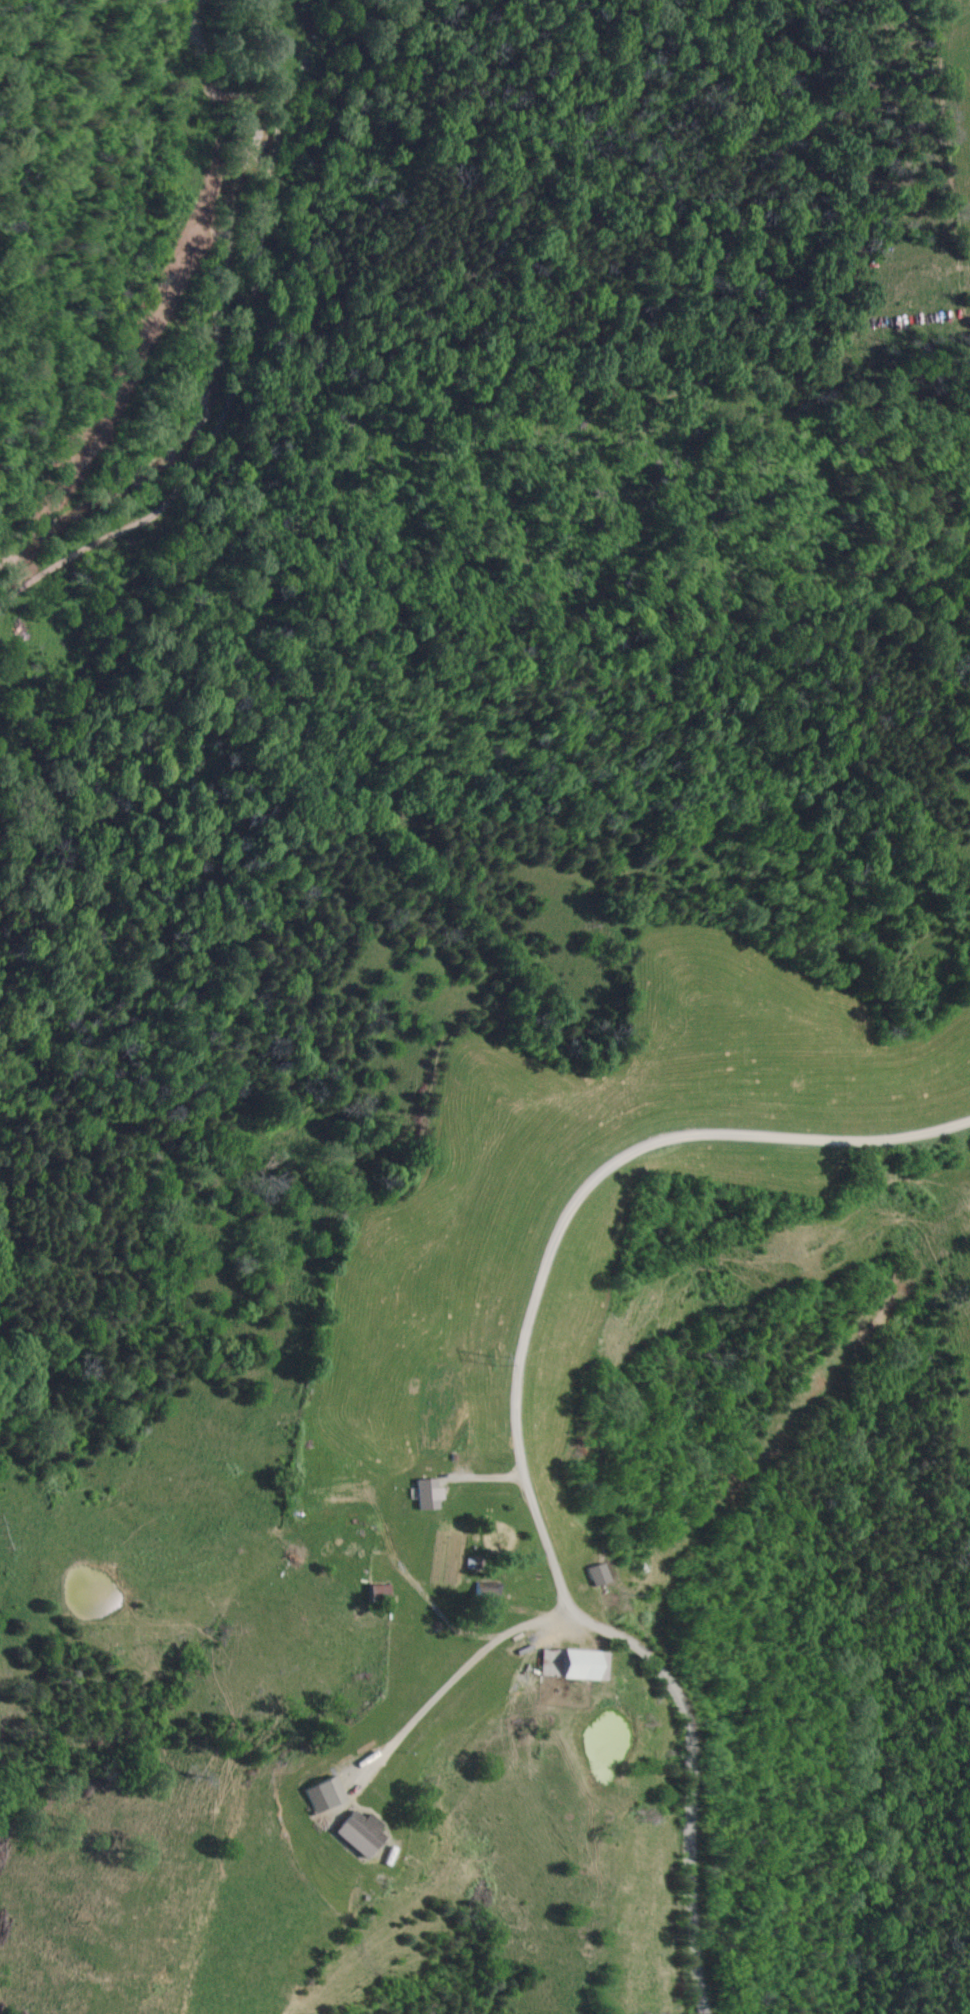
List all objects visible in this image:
road: (244, 360)
power tower: (482, 1363)
road: (516, 1428)
building: (425, 1495)
building: (593, 1576)
building: (378, 1593)
building: (547, 1662)
building: (579, 1664)
road: (454, 1681)
building: (321, 1795)
building: (357, 1833)

